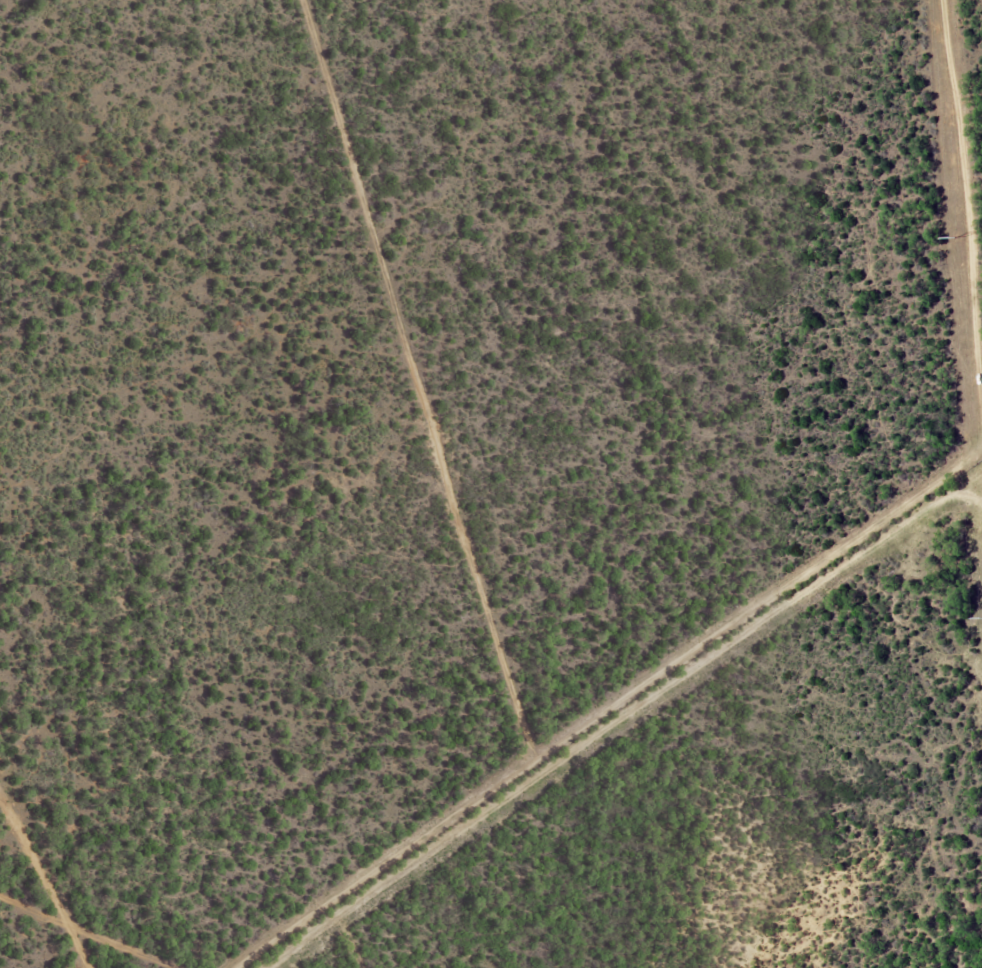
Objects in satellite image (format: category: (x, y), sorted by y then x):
power tower: (958, 237)
road: (931, 257)
road: (479, 527)
road: (780, 668)
road: (38, 913)
road: (122, 916)

